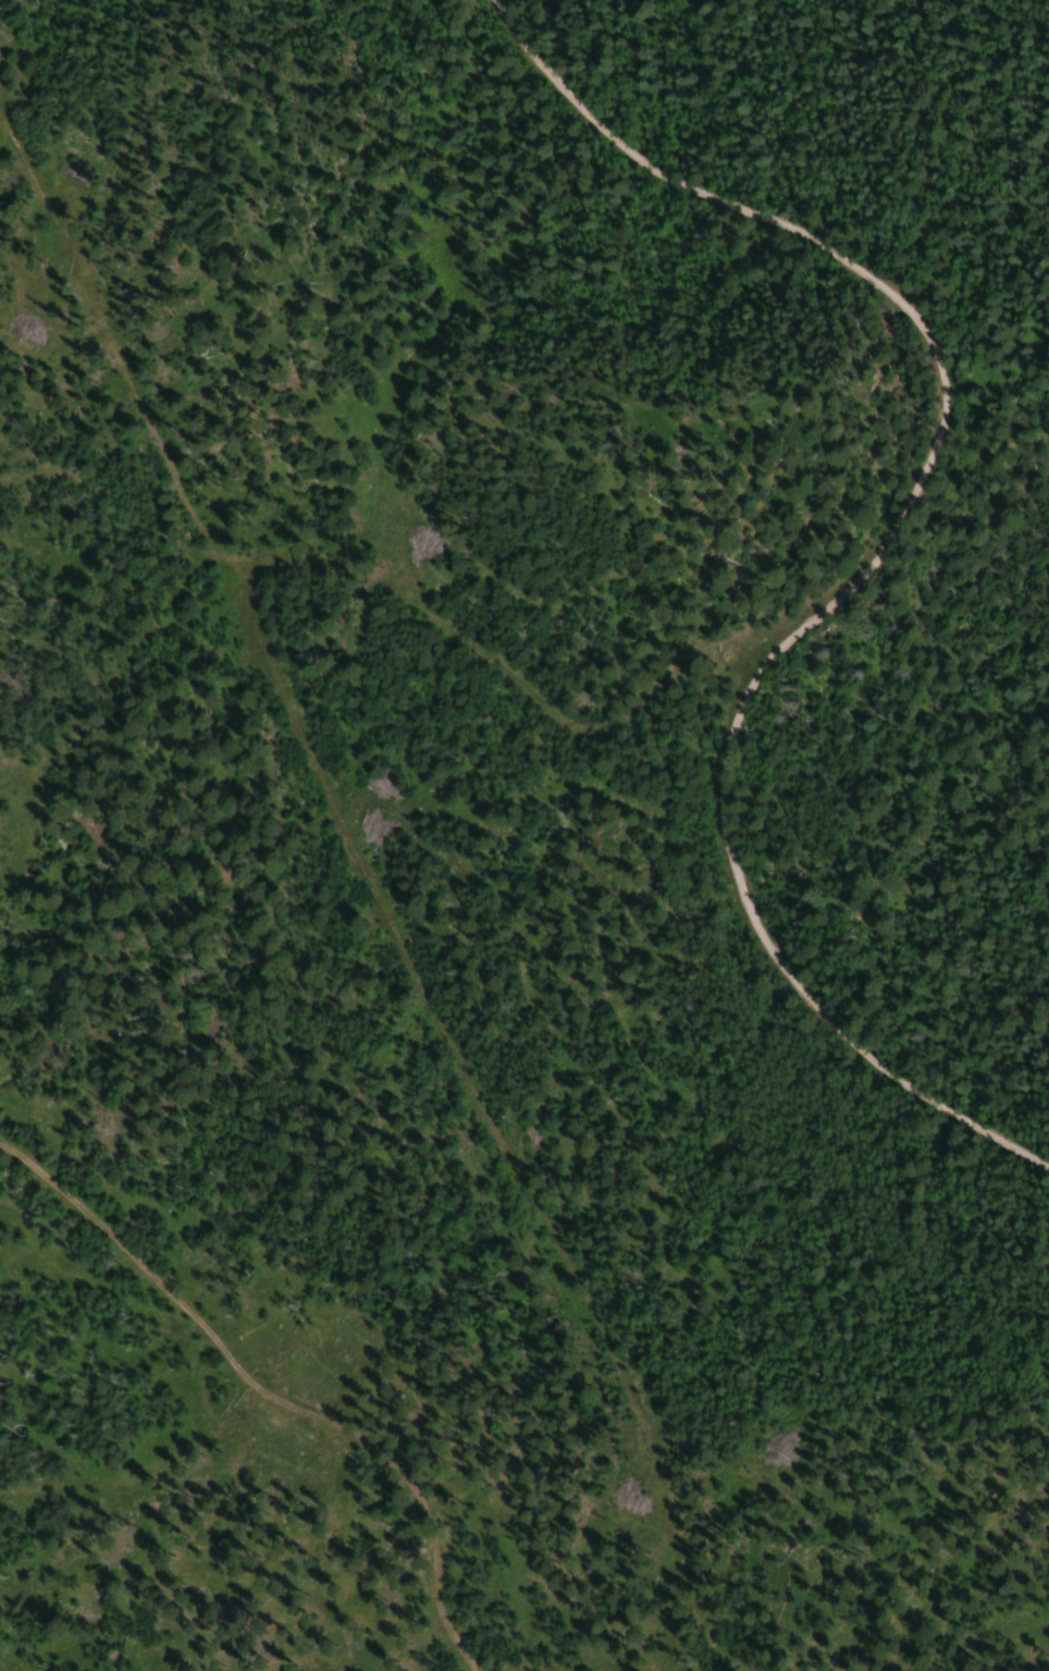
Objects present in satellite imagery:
road: (867, 562)
road: (267, 1401)

